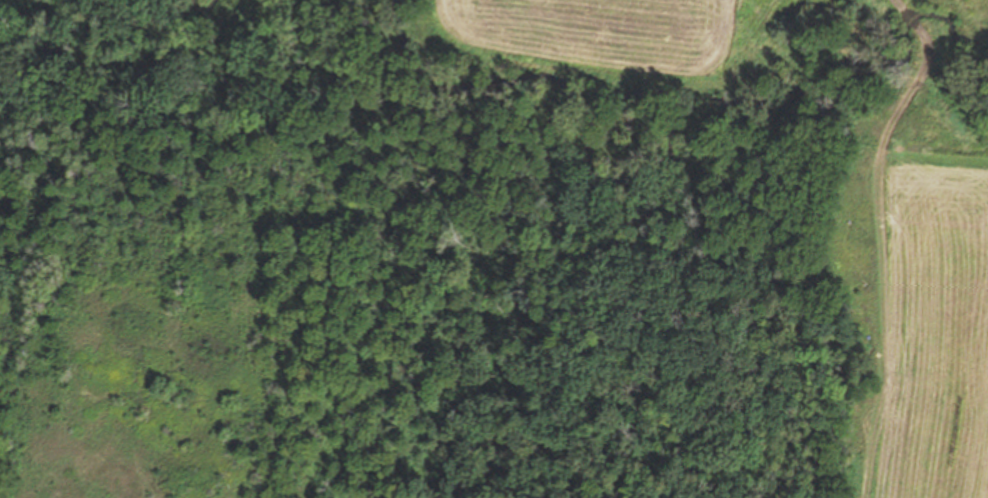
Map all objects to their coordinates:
road: (886, 233)

